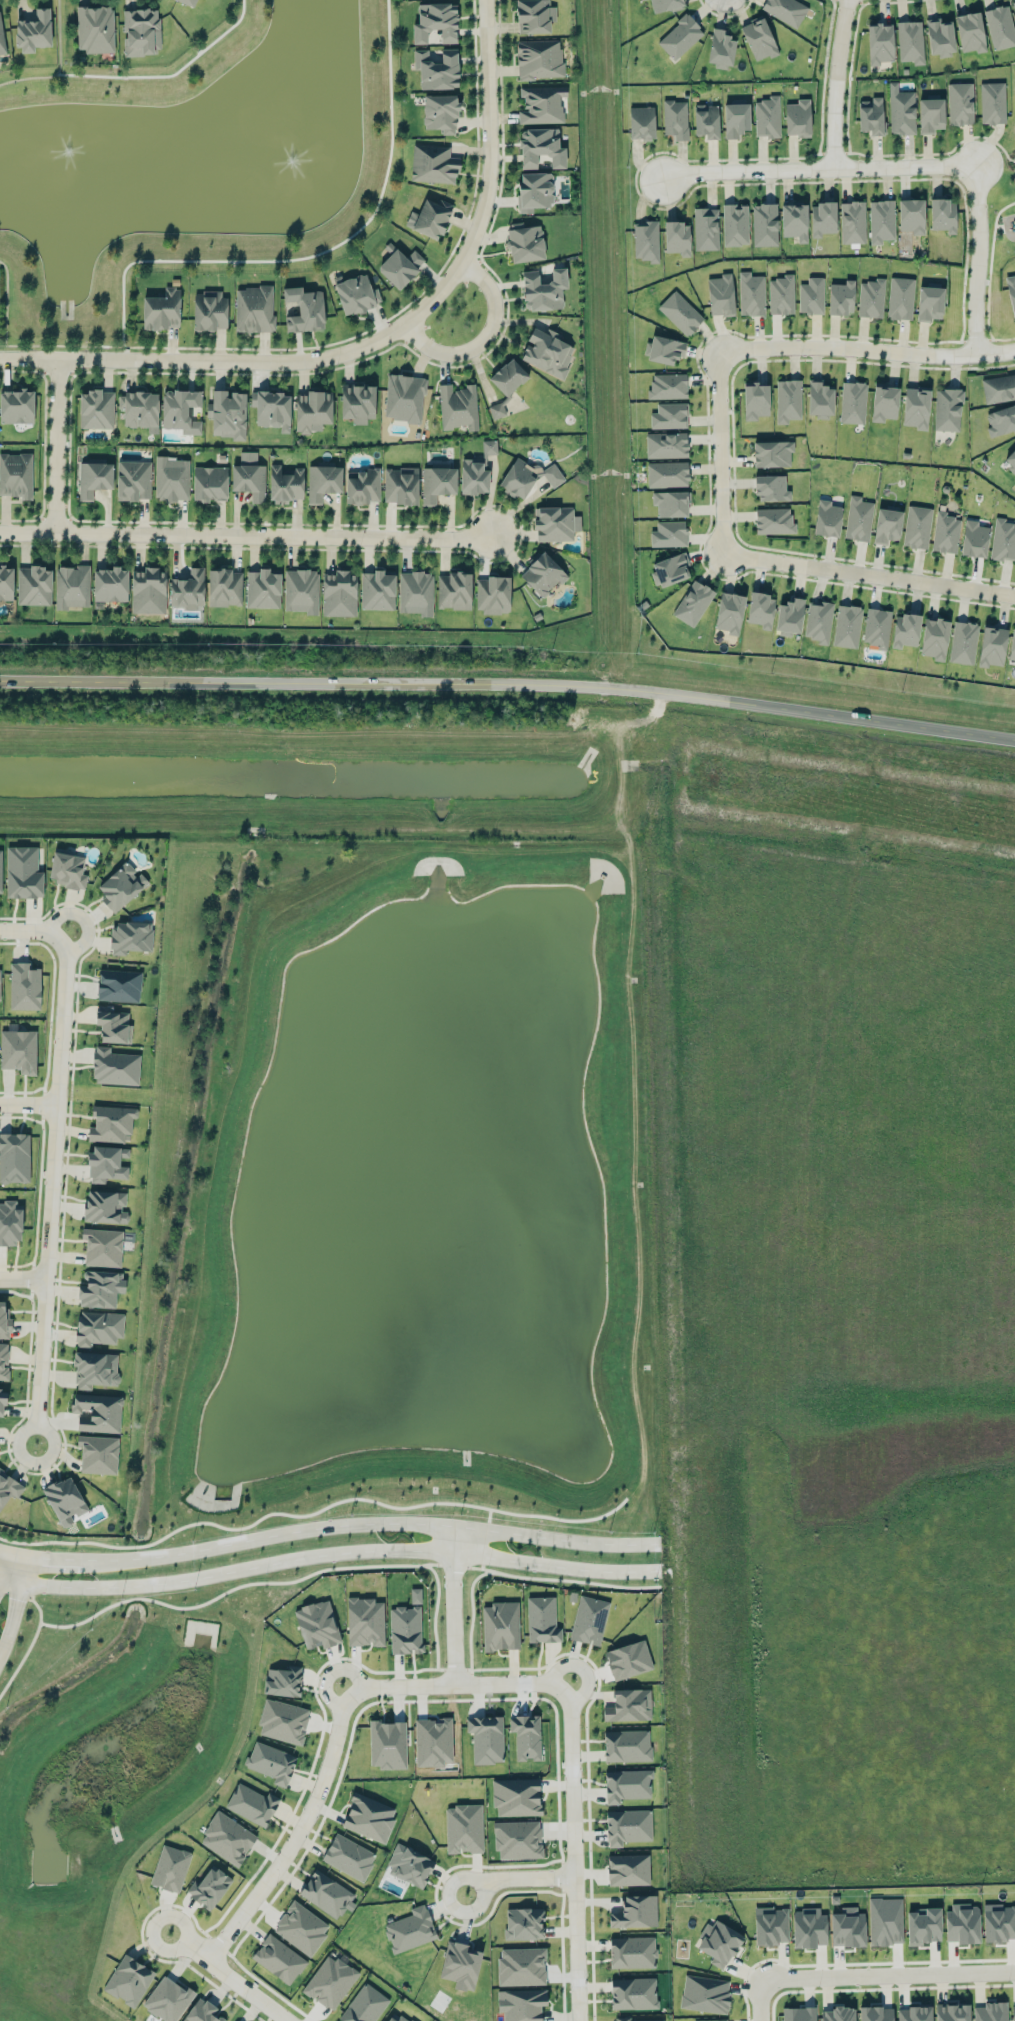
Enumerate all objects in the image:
building: (188, 2)
building: (666, 4)
building: (1014, 5)
building: (786, 10)
building: (534, 16)
building: (436, 22)
building: (1000, 27)
building: (95, 28)
building: (34, 31)
building: (141, 31)
building: (970, 32)
building: (940, 36)
building: (680, 37)
building: (2, 38)
building: (759, 39)
building: (910, 42)
building: (880, 43)
building: (720, 48)
building: (539, 58)
road: (55, 64)
building: (437, 69)
road: (836, 82)
building: (992, 102)
building: (960, 103)
building: (542, 104)
building: (901, 110)
building: (440, 113)
building: (931, 115)
building: (871, 116)
building: (767, 117)
building: (797, 118)
building: (675, 119)
building: (735, 119)
building: (706, 120)
building: (641, 122)
building: (540, 147)
fountain: (294, 150)
building: (433, 164)
fountain: (64, 165)
road: (820, 166)
building: (534, 191)
road: (998, 213)
building: (911, 215)
building: (943, 215)
road: (479, 216)
building: (430, 217)
building: (822, 218)
building: (881, 220)
building: (794, 221)
building: (852, 222)
building: (735, 224)
building: (764, 224)
building: (706, 228)
building: (677, 237)
building: (645, 240)
building: (525, 242)
road: (979, 259)
building: (400, 265)
building: (544, 290)
building: (1011, 291)
building: (356, 293)
road: (988, 293)
building: (721, 294)
building: (751, 294)
building: (781, 295)
building: (811, 296)
building: (841, 297)
building: (871, 298)
building: (900, 298)
building: (930, 303)
road: (2, 304)
building: (254, 308)
building: (304, 309)
building: (162, 310)
building: (210, 310)
building: (680, 313)
road: (483, 339)
road: (63, 346)
road: (867, 347)
building: (664, 349)
road: (1, 351)
building: (547, 351)
road: (164, 359)
building: (508, 377)
building: (668, 385)
building: (998, 388)
building: (404, 397)
building: (820, 399)
building: (755, 400)
building: (788, 400)
building: (358, 402)
building: (853, 402)
building: (884, 403)
building: (16, 406)
building: (458, 407)
building: (916, 407)
building: (139, 408)
building: (96, 409)
building: (272, 409)
building: (947, 409)
building: (180, 410)
building: (313, 410)
building: (497, 410)
building: (227, 414)
building: (669, 416)
building: (1001, 421)
road: (53, 443)
building: (666, 445)
road: (722, 452)
building: (772, 453)
building: (1010, 460)
building: (477, 471)
building: (667, 474)
building: (16, 475)
building: (249, 476)
building: (526, 477)
building: (94, 478)
building: (172, 478)
building: (133, 480)
building: (323, 480)
building: (438, 482)
building: (209, 483)
building: (285, 483)
building: (400, 485)
building: (362, 486)
building: (771, 488)
building: (671, 503)
building: (827, 518)
building: (858, 518)
building: (774, 520)
building: (555, 523)
building: (887, 525)
building: (917, 526)
road: (247, 532)
building: (945, 532)
building: (669, 534)
building: (974, 539)
building: (1003, 540)
building: (670, 569)
road: (869, 573)
building: (543, 574)
building: (6, 583)
building: (110, 584)
building: (34, 585)
building: (72, 586)
building: (224, 587)
building: (263, 589)
building: (149, 590)
building: (188, 590)
building: (377, 590)
building: (454, 590)
building: (302, 591)
building: (416, 592)
building: (339, 593)
building: (493, 594)
building: (693, 603)
building: (760, 609)
building: (729, 612)
building: (790, 617)
building: (818, 621)
building: (847, 626)
building: (877, 627)
building: (905, 630)
building: (934, 638)
building: (963, 642)
building: (992, 645)
building: (1012, 645)
road: (509, 683)
road: (582, 829)
building: (68, 870)
building: (23, 872)
building: (1, 873)
building: (121, 886)
road: (35, 930)
building: (131, 937)
building: (0, 978)
building: (119, 985)
building: (25, 986)
building: (113, 1024)
road: (972, 1048)
building: (19, 1050)
building: (115, 1067)
road: (29, 1104)
building: (111, 1123)
building: (14, 1157)
building: (107, 1163)
road: (52, 1187)
building: (105, 1206)
building: (10, 1222)
road: (863, 1234)
building: (103, 1247)
road: (23, 1278)
building: (100, 1288)
building: (4, 1322)
building: (98, 1328)
building: (4, 1361)
building: (95, 1369)
building: (2, 1401)
building: (98, 1412)
building: (98, 1454)
building: (8, 1487)
building: (65, 1500)
road: (329, 1526)
road: (0, 1547)
road: (0, 1550)
road: (343, 1553)
road: (455, 1605)
road: (18, 1607)
building: (542, 1620)
building: (589, 1620)
building: (365, 1621)
building: (317, 1624)
building: (501, 1625)
building: (405, 1629)
building: (628, 1659)
building: (283, 1681)
road: (458, 1683)
building: (629, 1705)
building: (283, 1721)
building: (526, 1736)
building: (486, 1738)
building: (433, 1741)
building: (388, 1744)
building: (626, 1745)
building: (271, 1762)
building: (627, 1785)
building: (516, 1797)
building: (252, 1804)
building: (369, 1817)
building: (627, 1826)
building: (464, 1828)
road: (298, 1833)
building: (227, 1838)
building: (518, 1839)
road: (575, 1851)
building: (349, 1857)
building: (409, 1865)
building: (170, 1868)
building: (628, 1869)
road: (518, 1877)
building: (208, 1887)
building: (326, 1893)
building: (635, 1912)
building: (885, 1921)
building: (999, 1922)
building: (524, 1923)
building: (962, 1923)
building: (771, 1925)
building: (924, 1926)
building: (301, 1927)
building: (808, 1927)
building: (847, 1927)
building: (410, 1929)
building: (718, 1943)
building: (632, 1951)
building: (279, 1959)
building: (461, 1965)
building: (521, 1966)
road: (888, 1975)
road: (228, 1976)
building: (128, 1980)
building: (330, 1981)
building: (633, 1993)
building: (705, 1994)
building: (168, 1999)
road: (761, 2000)
building: (364, 2004)
building: (521, 2004)
building: (202, 2011)
building: (991, 2011)
building: (915, 2012)
building: (952, 2012)
building: (1013, 2012)
building: (876, 2013)
building: (799, 2014)
building: (838, 2014)
building: (396, 2017)
building: (638, 2019)
building: (712, 2019)

